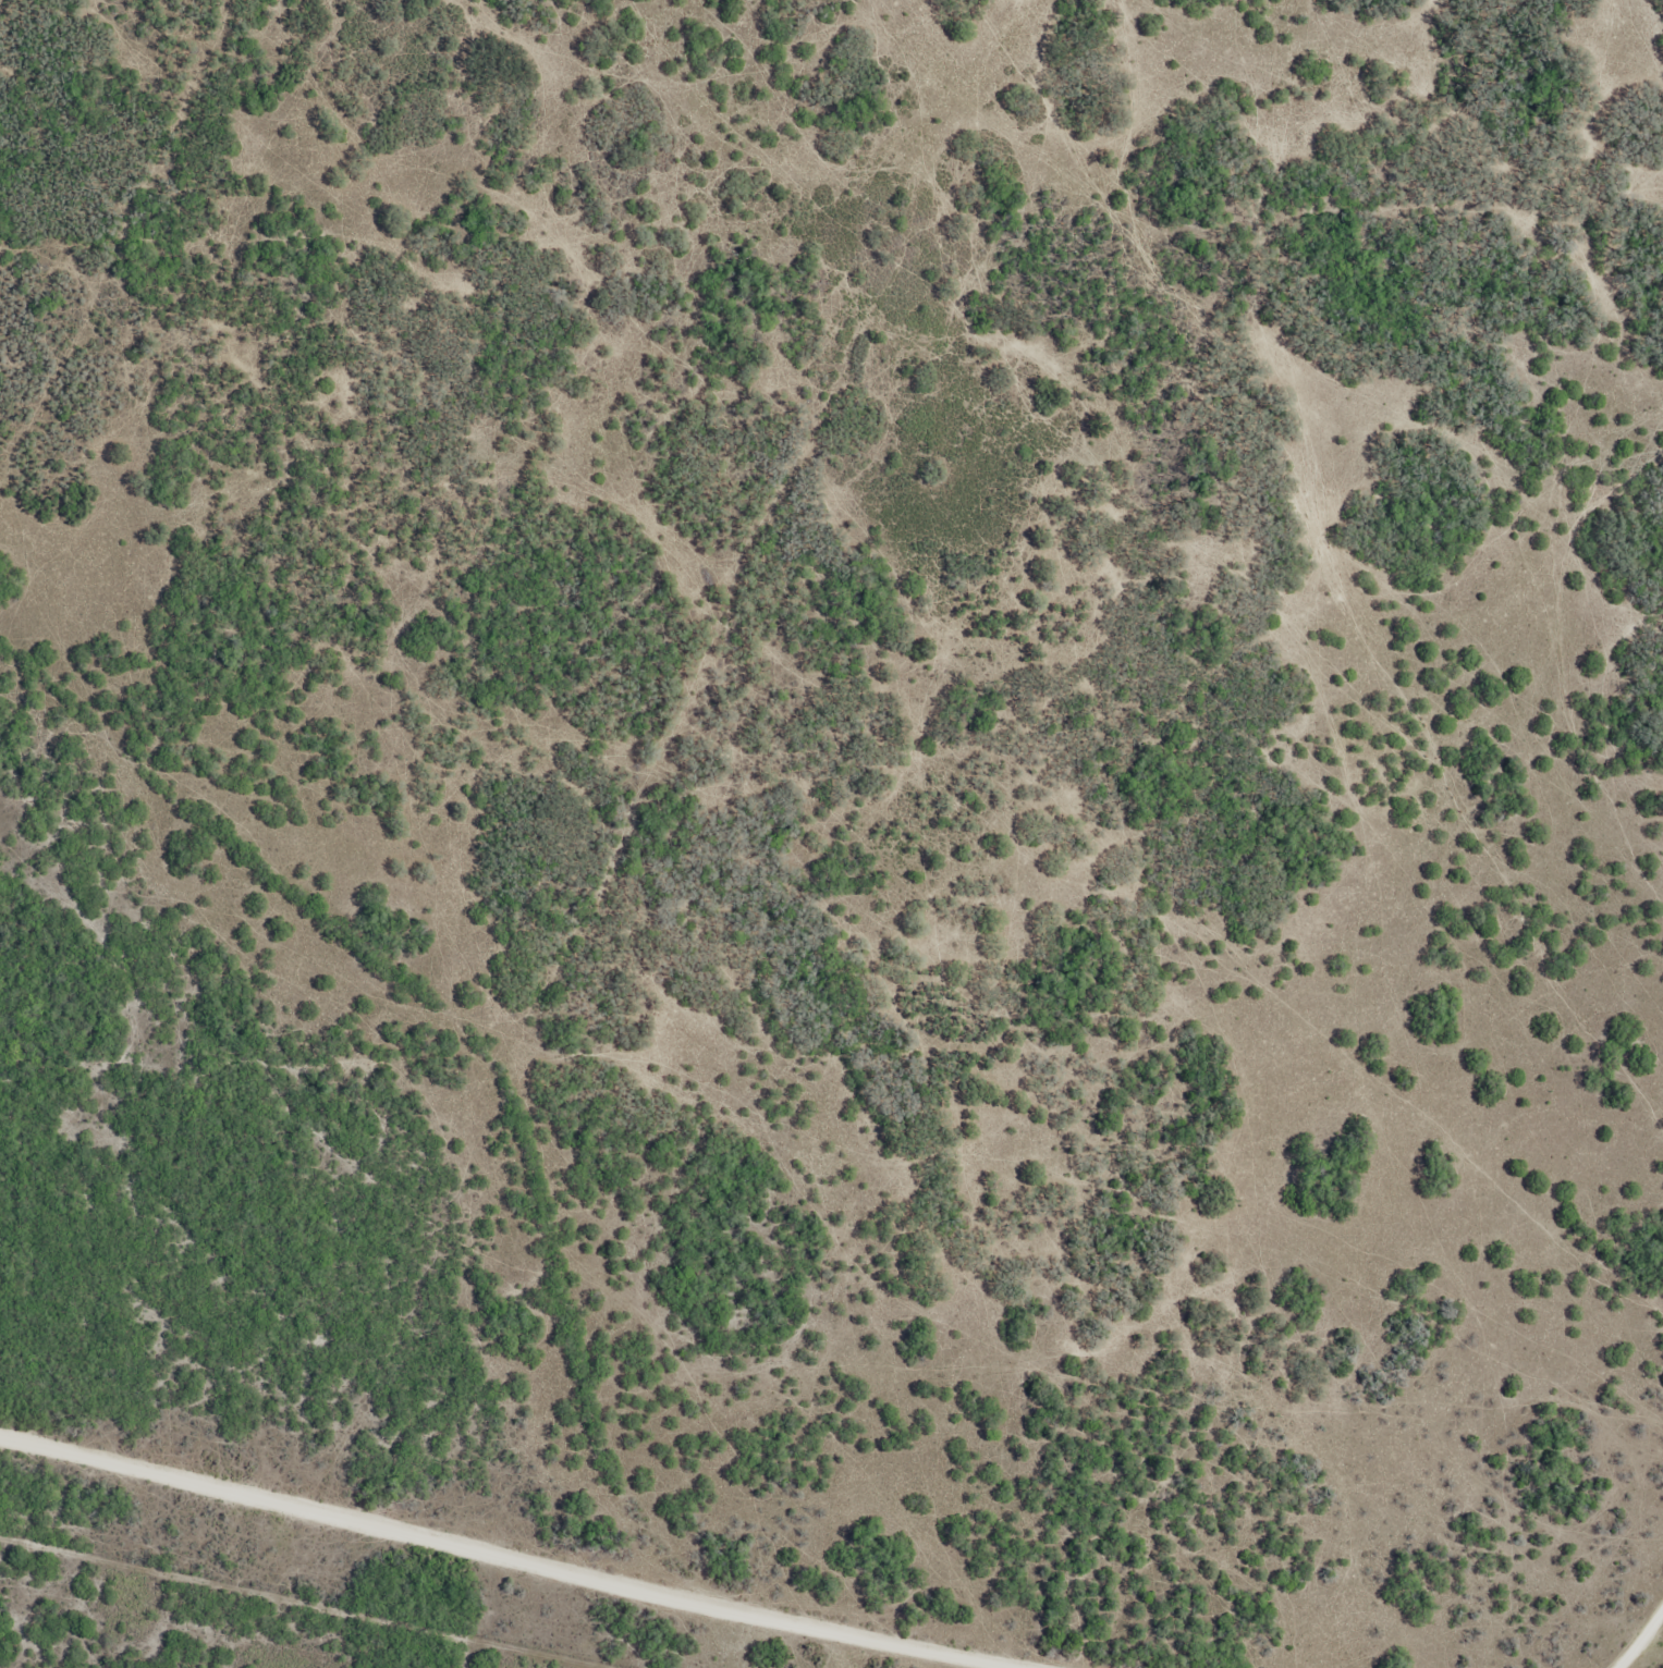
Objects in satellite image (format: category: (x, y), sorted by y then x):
road: (501, 1546)
road: (835, 1653)
road: (1653, 1658)

